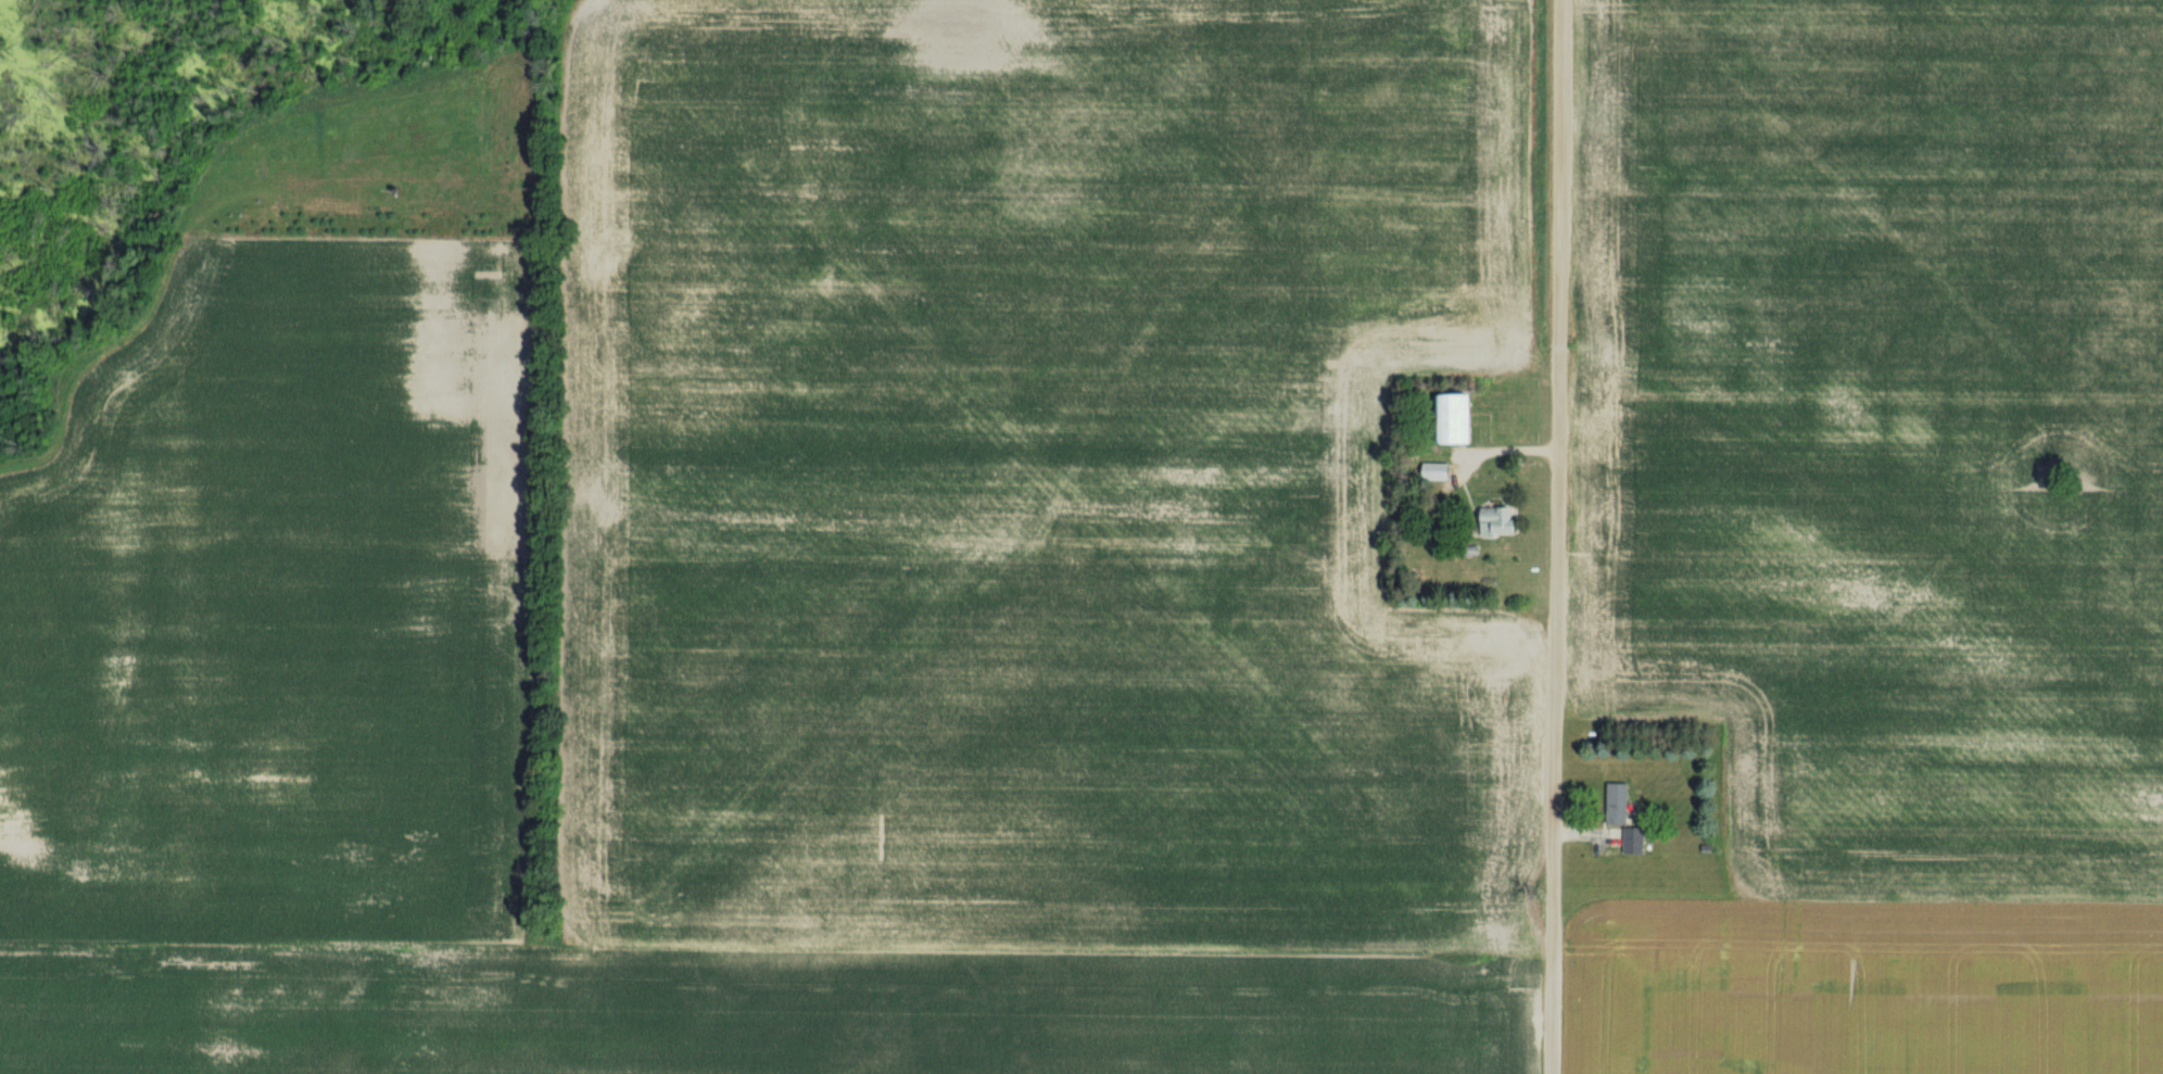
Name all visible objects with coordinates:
building: (1460, 418)
road: (1513, 448)
building: (1440, 471)
building: (1502, 521)
road: (1554, 536)
building: (1619, 804)
building: (1636, 841)

